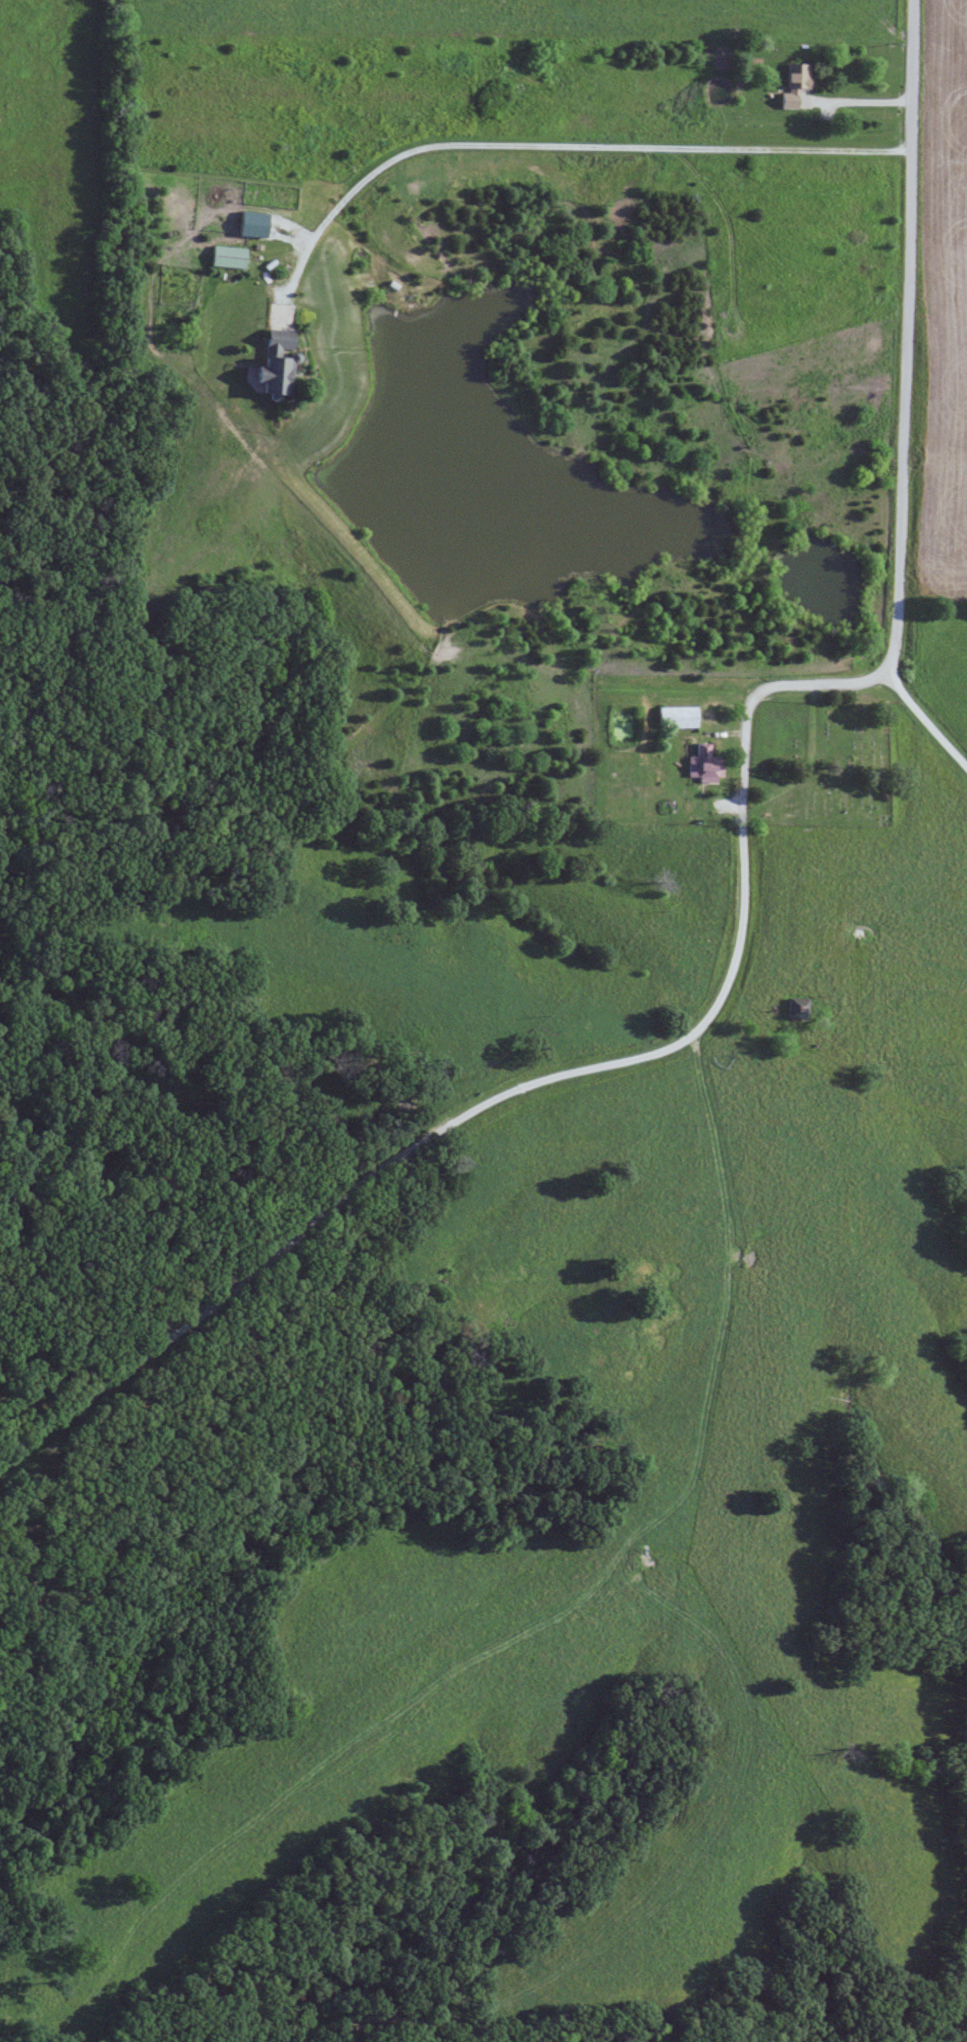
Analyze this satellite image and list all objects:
building: (792, 84)
road: (854, 101)
road: (548, 146)
building: (251, 223)
building: (227, 255)
road: (905, 336)
building: (276, 340)
building: (272, 375)
building: (675, 716)
road: (924, 720)
park: (821, 762)
building: (702, 763)
building: (794, 1006)
road: (535, 1080)

